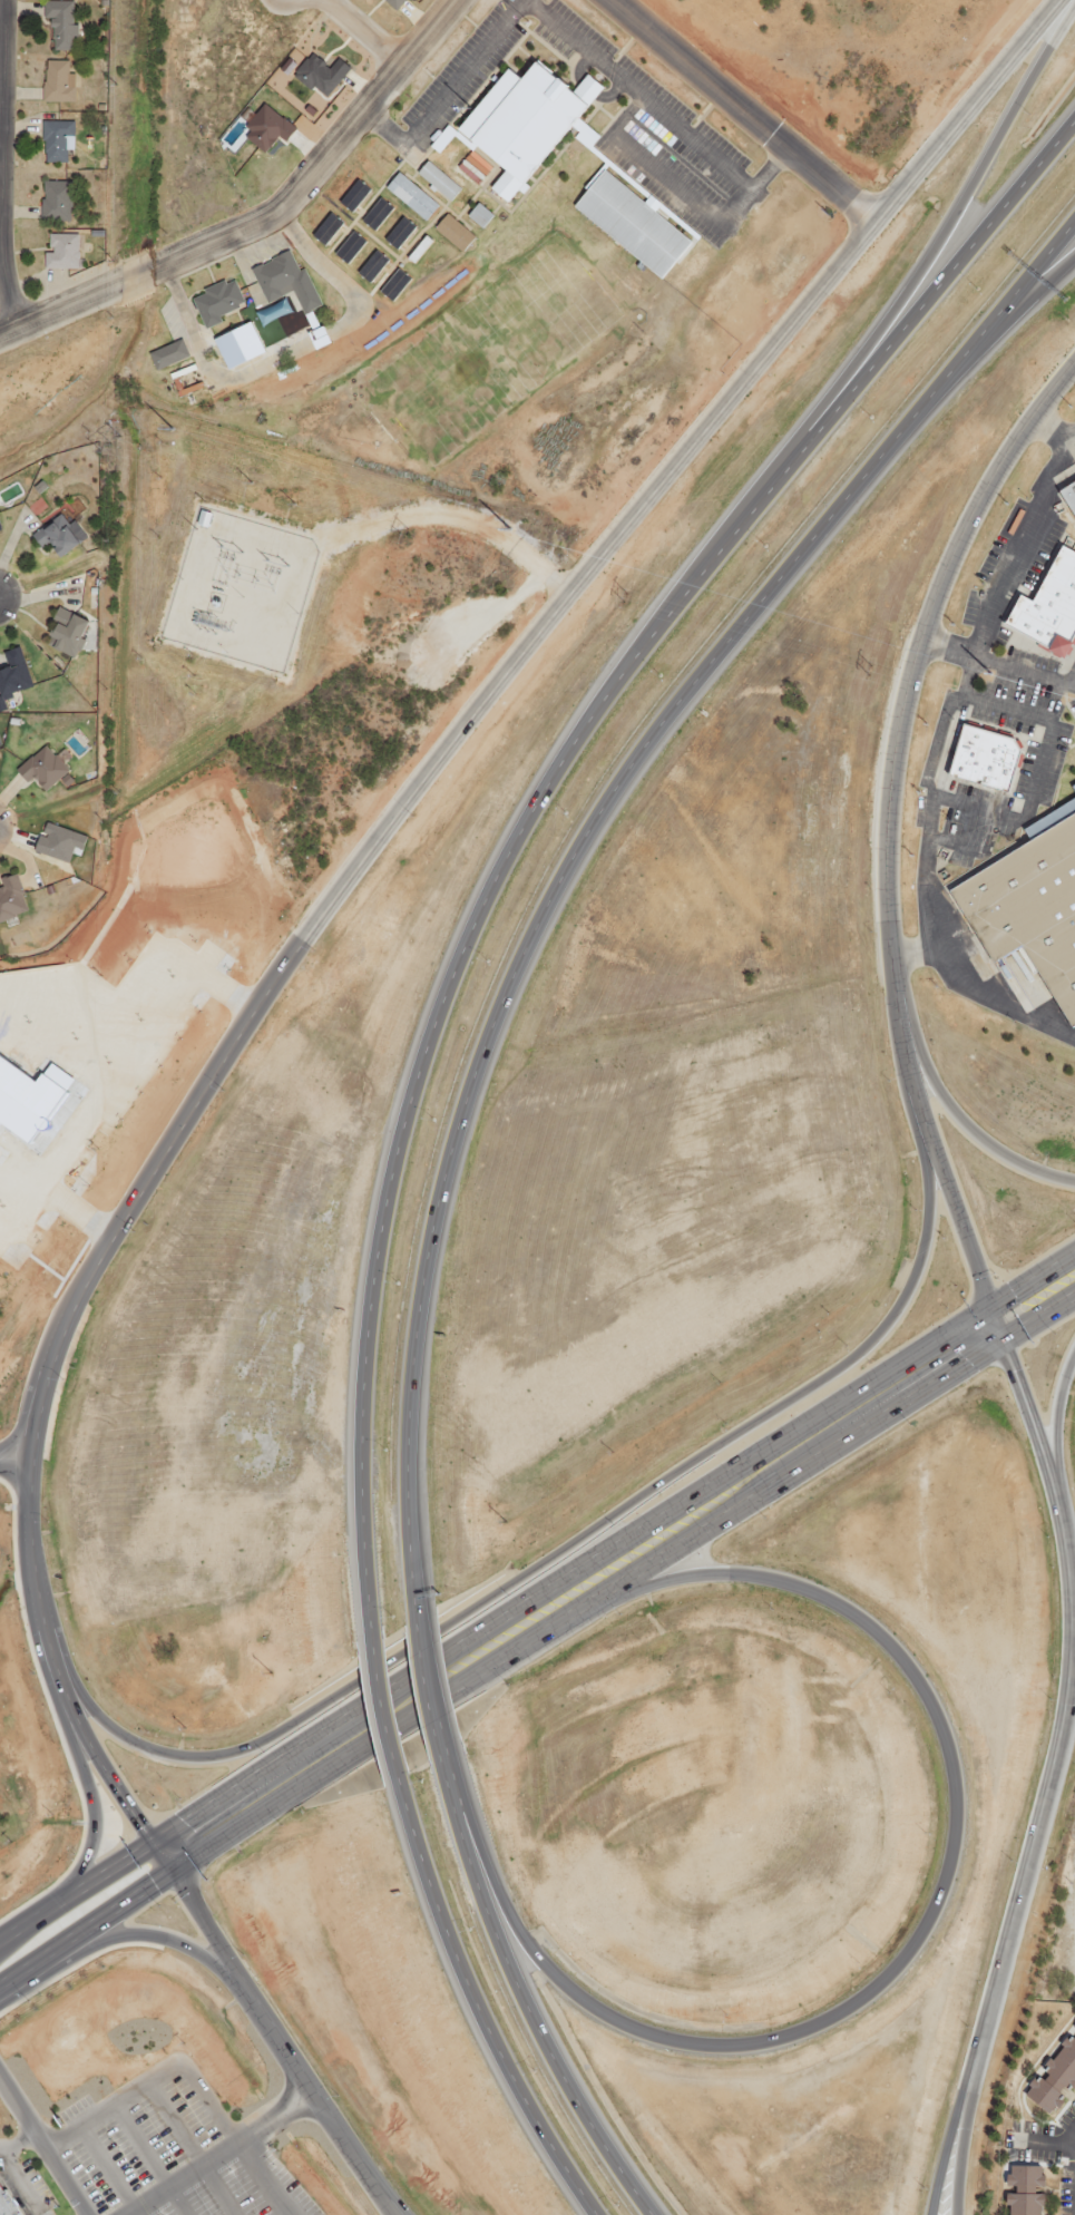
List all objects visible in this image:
building: (393, 2)
building: (58, 23)
road: (360, 30)
building: (321, 72)
building: (55, 81)
power tower: (111, 85)
road: (742, 110)
building: (522, 121)
building: (267, 126)
building: (55, 140)
road: (1, 166)
building: (436, 180)
building: (351, 196)
building: (409, 196)
building: (53, 201)
building: (374, 214)
building: (477, 215)
road: (262, 216)
building: (631, 224)
building: (324, 228)
building: (399, 232)
building: (451, 233)
building: (348, 247)
building: (60, 251)
road: (923, 258)
power tower: (109, 262)
building: (372, 265)
building: (275, 276)
building: (394, 283)
road: (1026, 295)
building: (214, 302)
building: (272, 312)
building: (238, 343)
building: (166, 354)
power tower: (150, 422)
power tower: (104, 443)
power tower: (250, 482)
power tower: (378, 491)
power tower: (292, 502)
building: (1066, 502)
road: (636, 514)
building: (0, 528)
power tower: (403, 534)
building: (56, 537)
power tower: (228, 548)
power tower: (273, 562)
power tower: (631, 566)
power substation: (237, 591)
power tower: (624, 598)
building: (1042, 611)
building: (65, 633)
power tower: (873, 638)
road: (999, 660)
power tower: (867, 670)
building: (12, 672)
building: (981, 757)
building: (45, 767)
building: (1073, 786)
road: (539, 799)
road: (888, 831)
building: (59, 841)
road: (582, 847)
building: (11, 897)
building: (1032, 904)
building: (25, 1100)
road: (965, 1123)
road: (109, 1239)
road: (1033, 1300)
traffic signals: (991, 1329)
road: (1027, 1418)
road: (1057, 1432)
road: (13, 1461)
road: (27, 1477)
road: (754, 1481)
road: (560, 1548)
road: (1071, 1682)
road: (62, 1687)
road: (429, 1689)
road: (382, 1706)
road: (339, 1745)
road: (88, 1783)
road: (450, 1786)
traffic signals: (162, 1860)
road: (1025, 1864)
road: (936, 1886)
road: (79, 1890)
road: (87, 1926)
road: (148, 1935)
road: (477, 2004)
road: (530, 2021)
building: (1074, 2028)
road: (276, 2038)
building: (1054, 2078)
road: (110, 2102)
road: (952, 2120)
road: (234, 2137)
road: (188, 2147)
road: (42, 2148)
parking lot: (169, 2150)
road: (218, 2154)
road: (143, 2159)
road: (105, 2169)
road: (385, 2190)
building: (1023, 2190)
building: (7, 2204)

